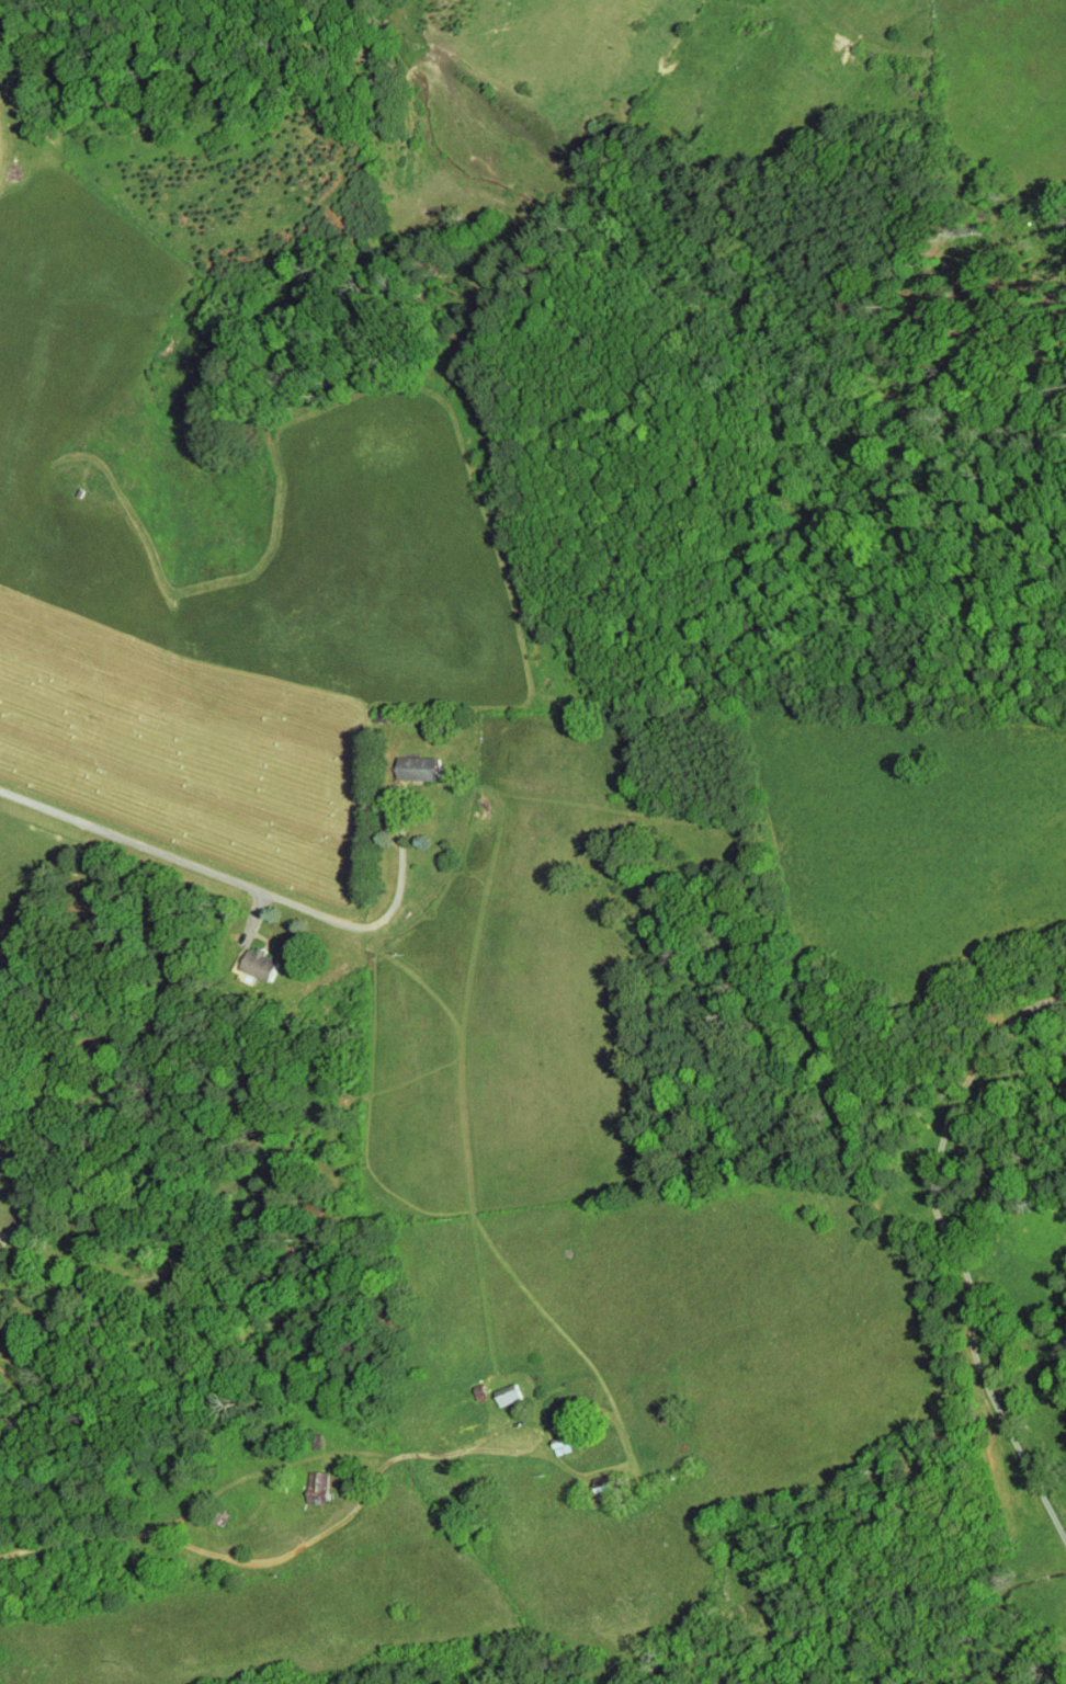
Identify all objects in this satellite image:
road: (245, 885)
road: (956, 1249)
road: (797, 1307)
road: (538, 1433)
road: (256, 1564)

